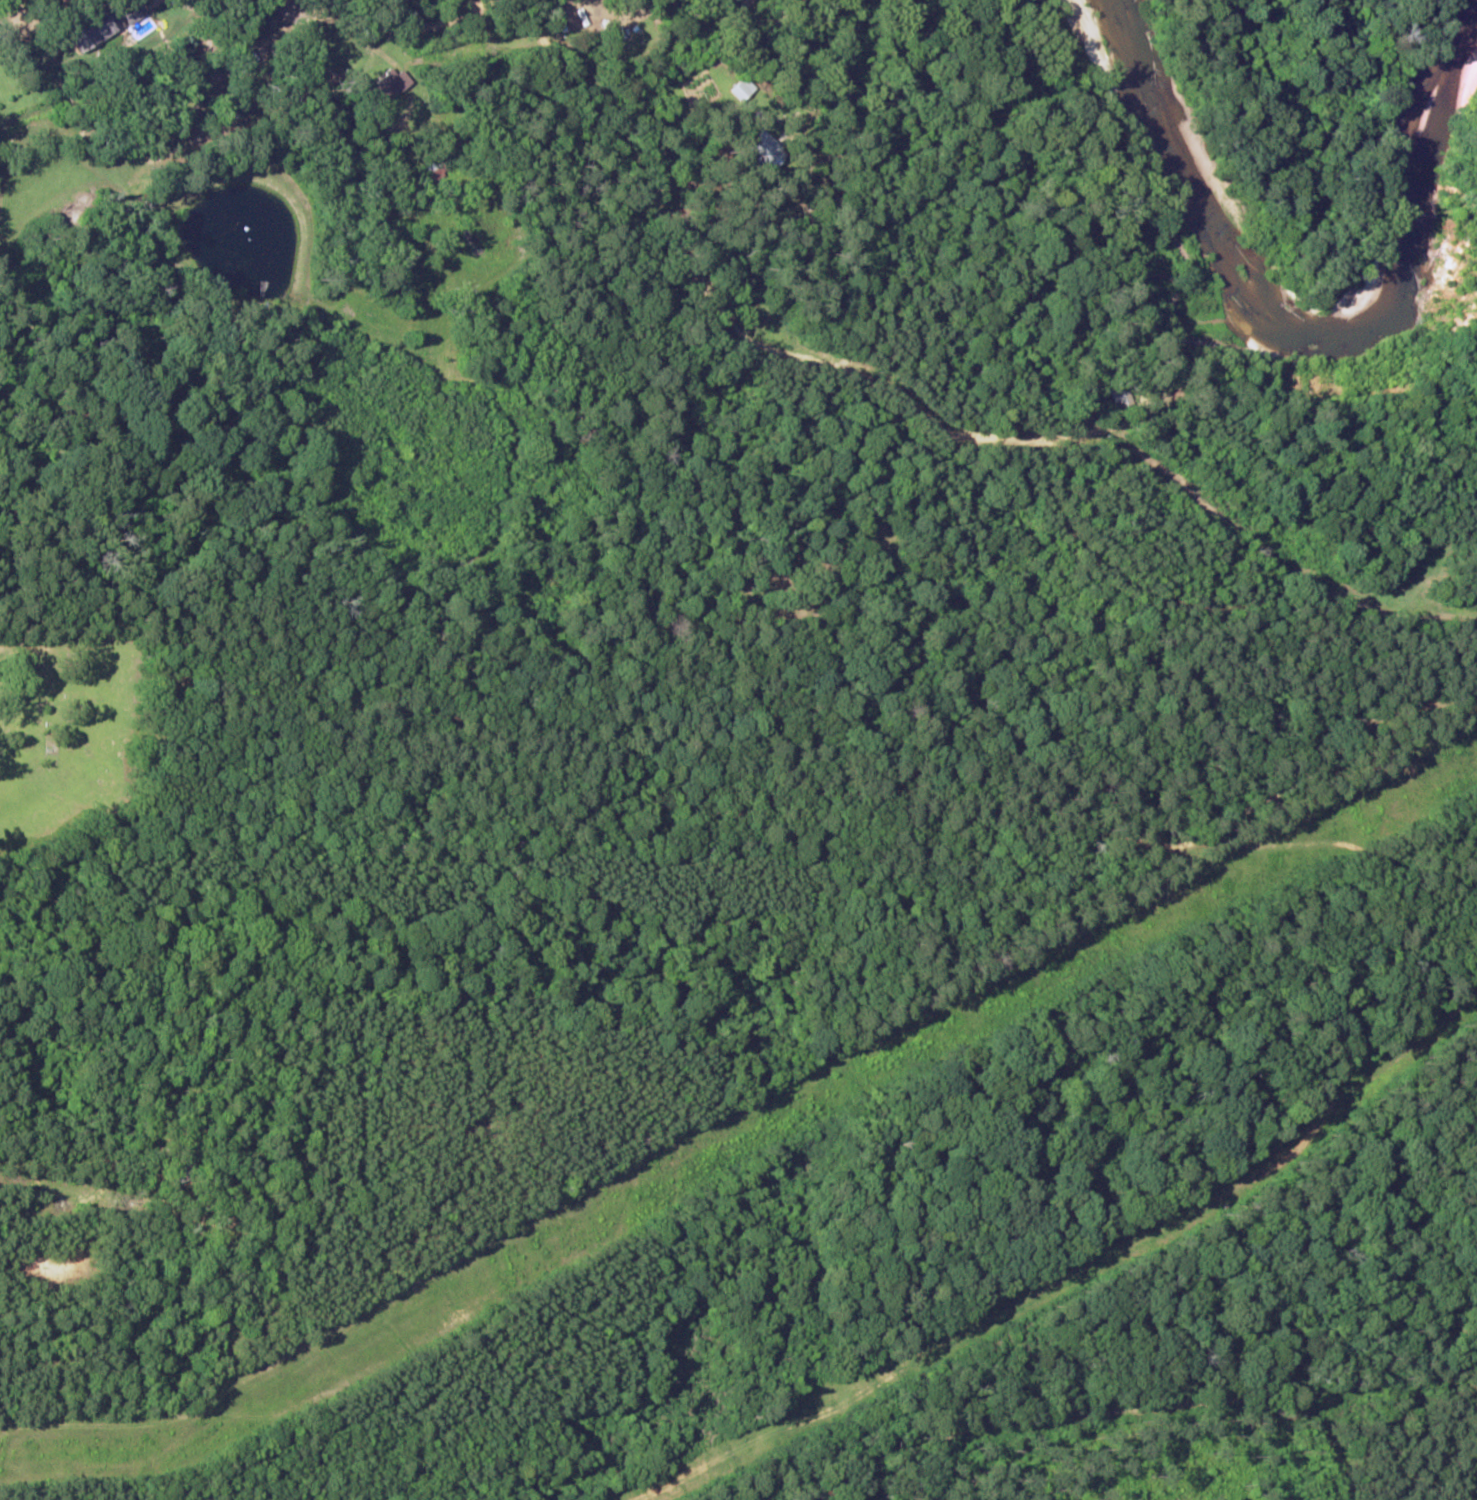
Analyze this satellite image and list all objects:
road: (21, 8)
building: (391, 84)
building: (744, 88)
road: (356, 99)
building: (769, 149)
road: (335, 169)

